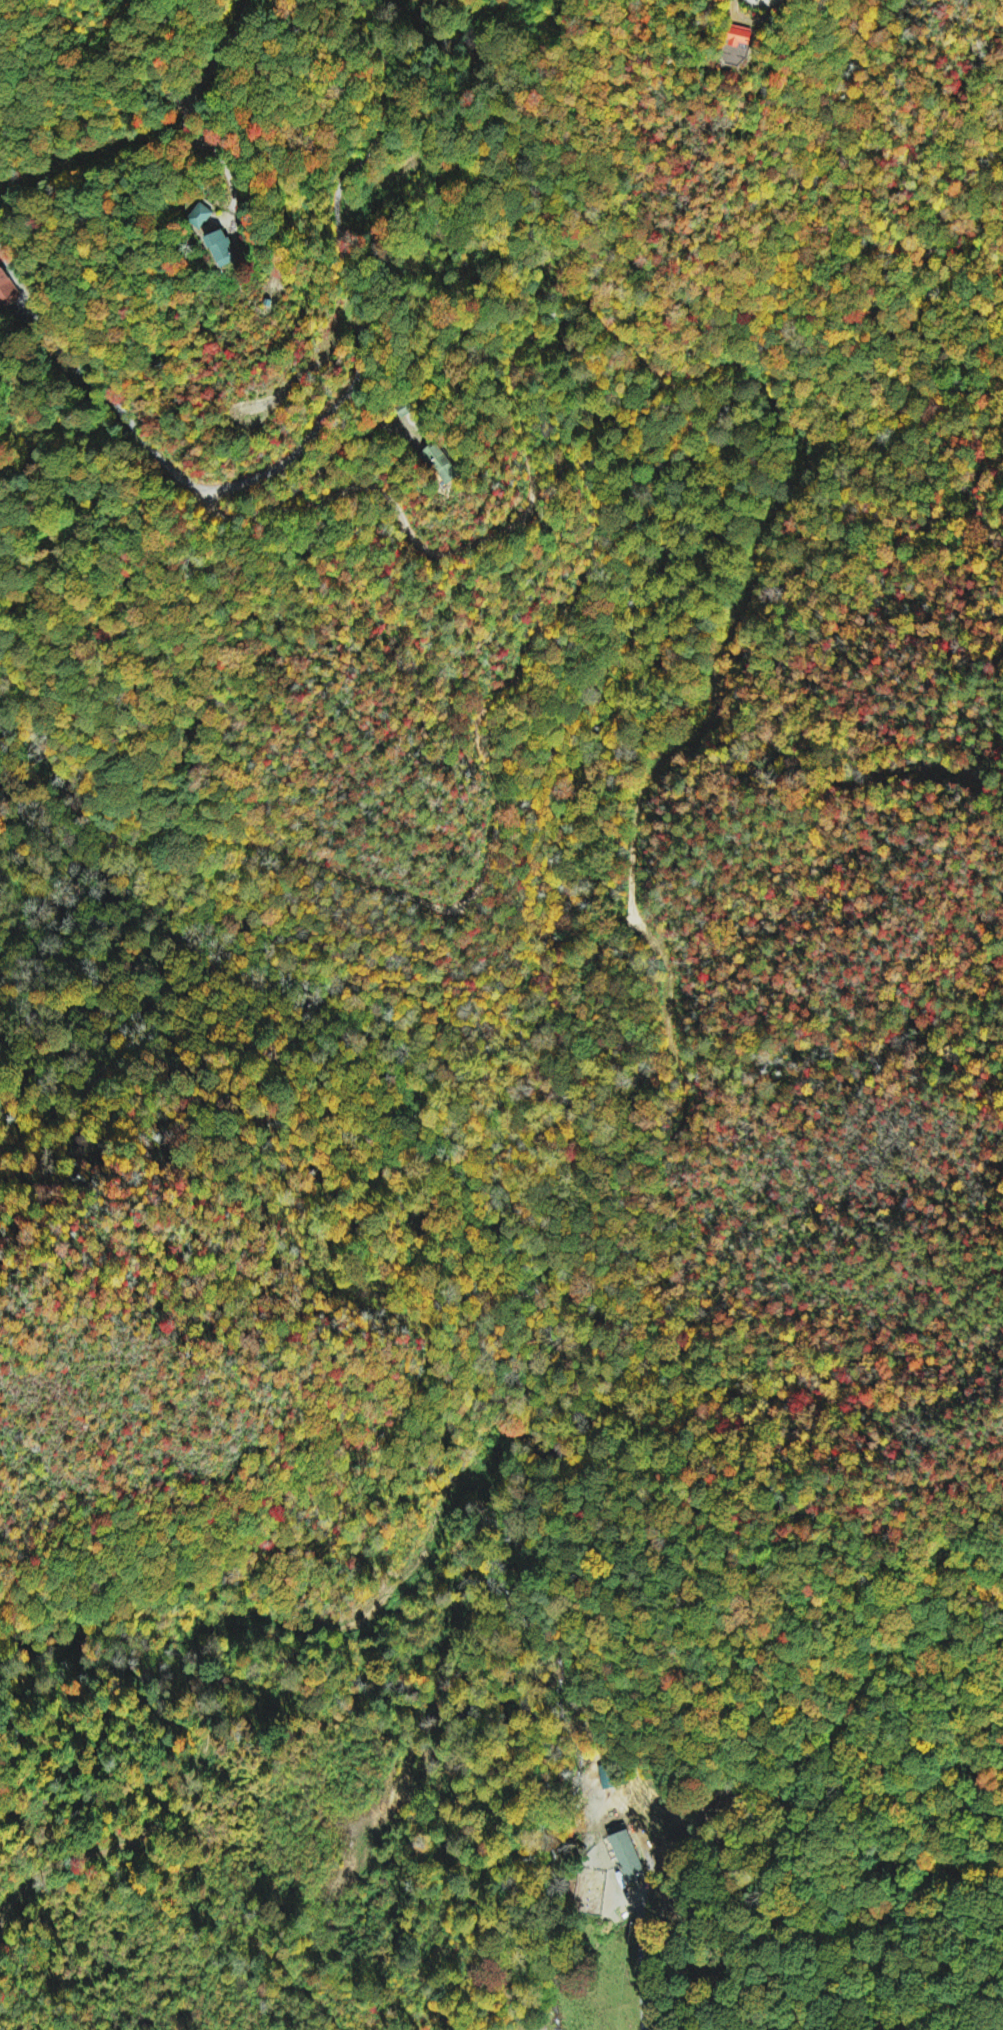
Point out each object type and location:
building: (741, 36)
building: (201, 216)
building: (223, 248)
building: (6, 289)
road: (530, 332)
building: (442, 464)
building: (628, 1856)
road: (633, 1895)

